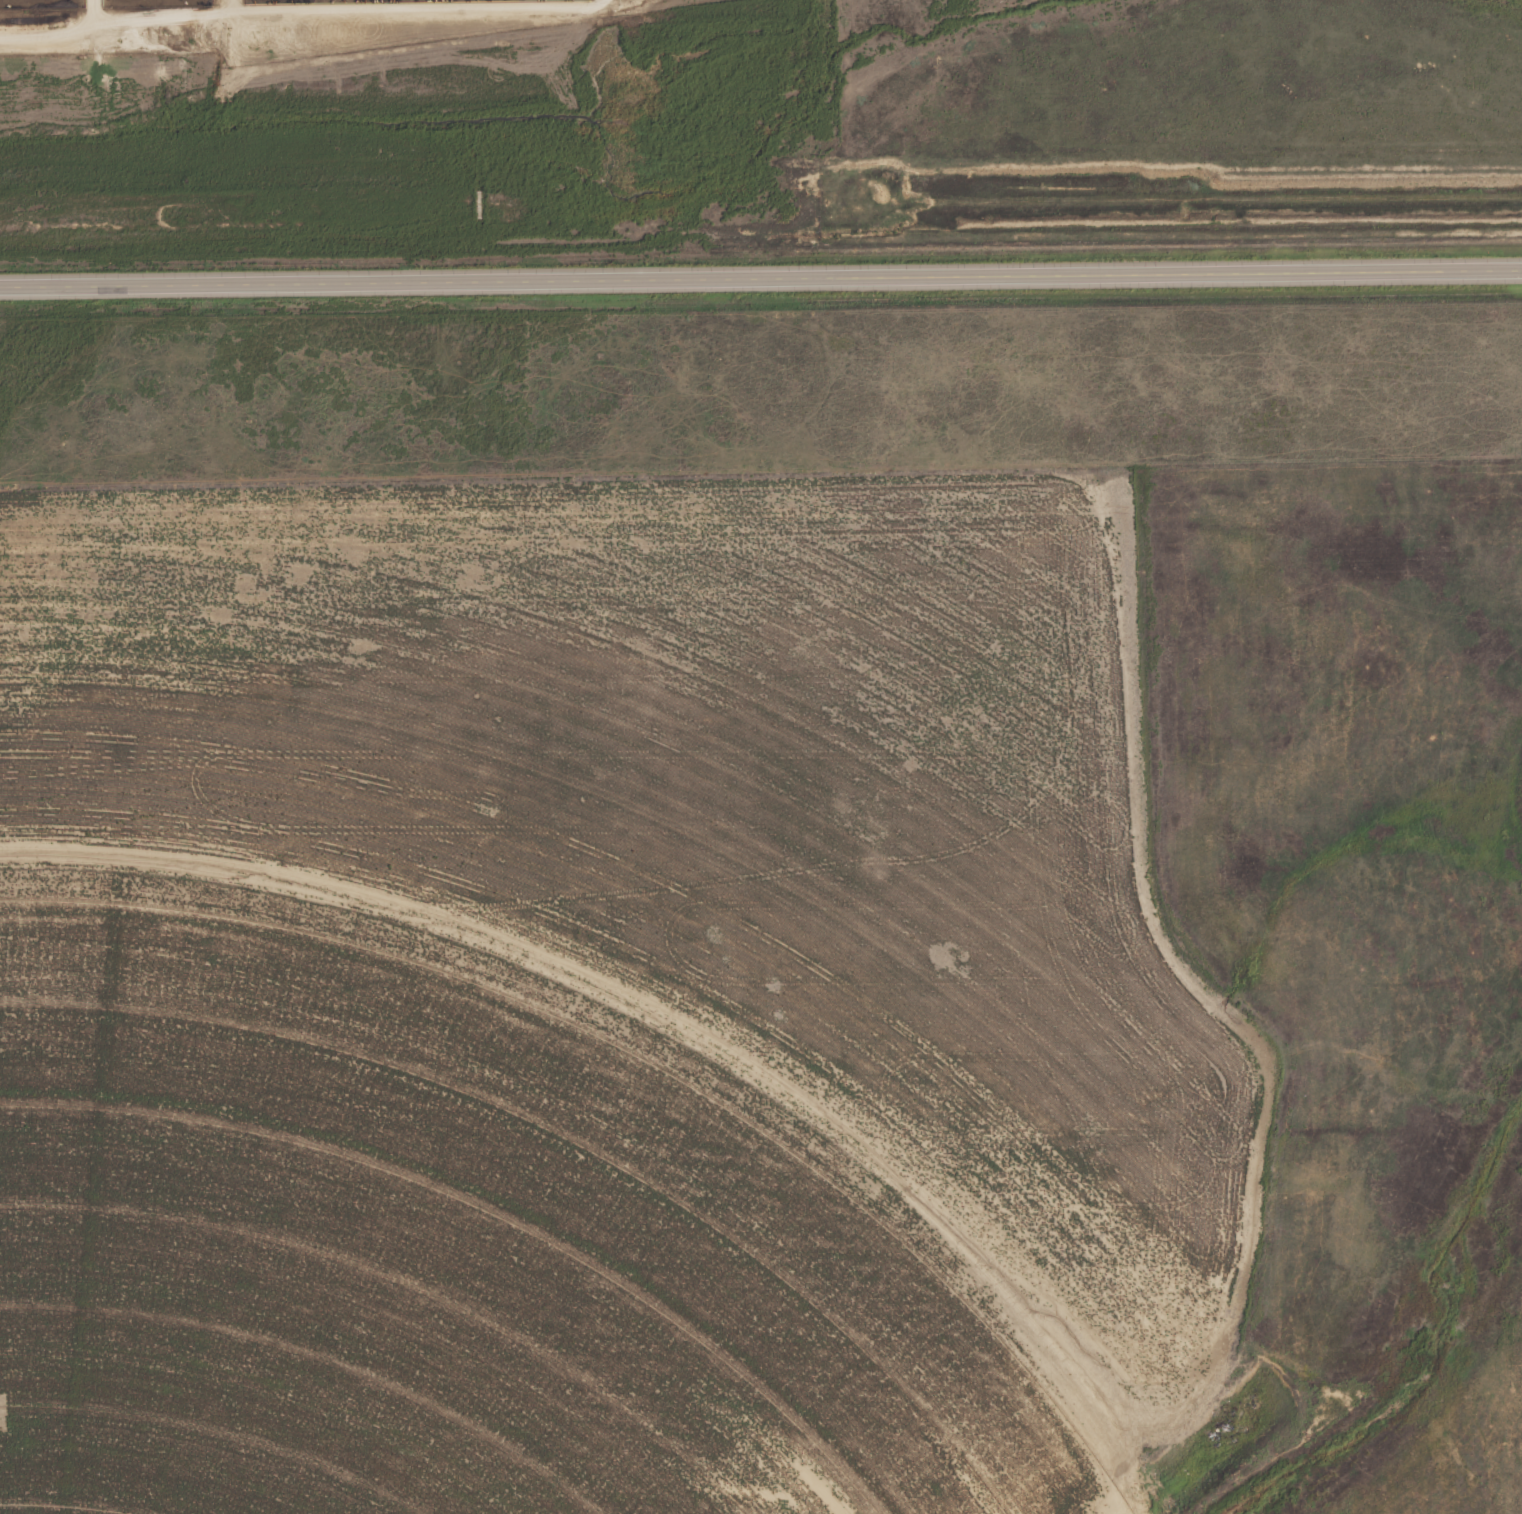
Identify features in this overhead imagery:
road: (42, 25)
crop: (431, 50)
road: (761, 281)

